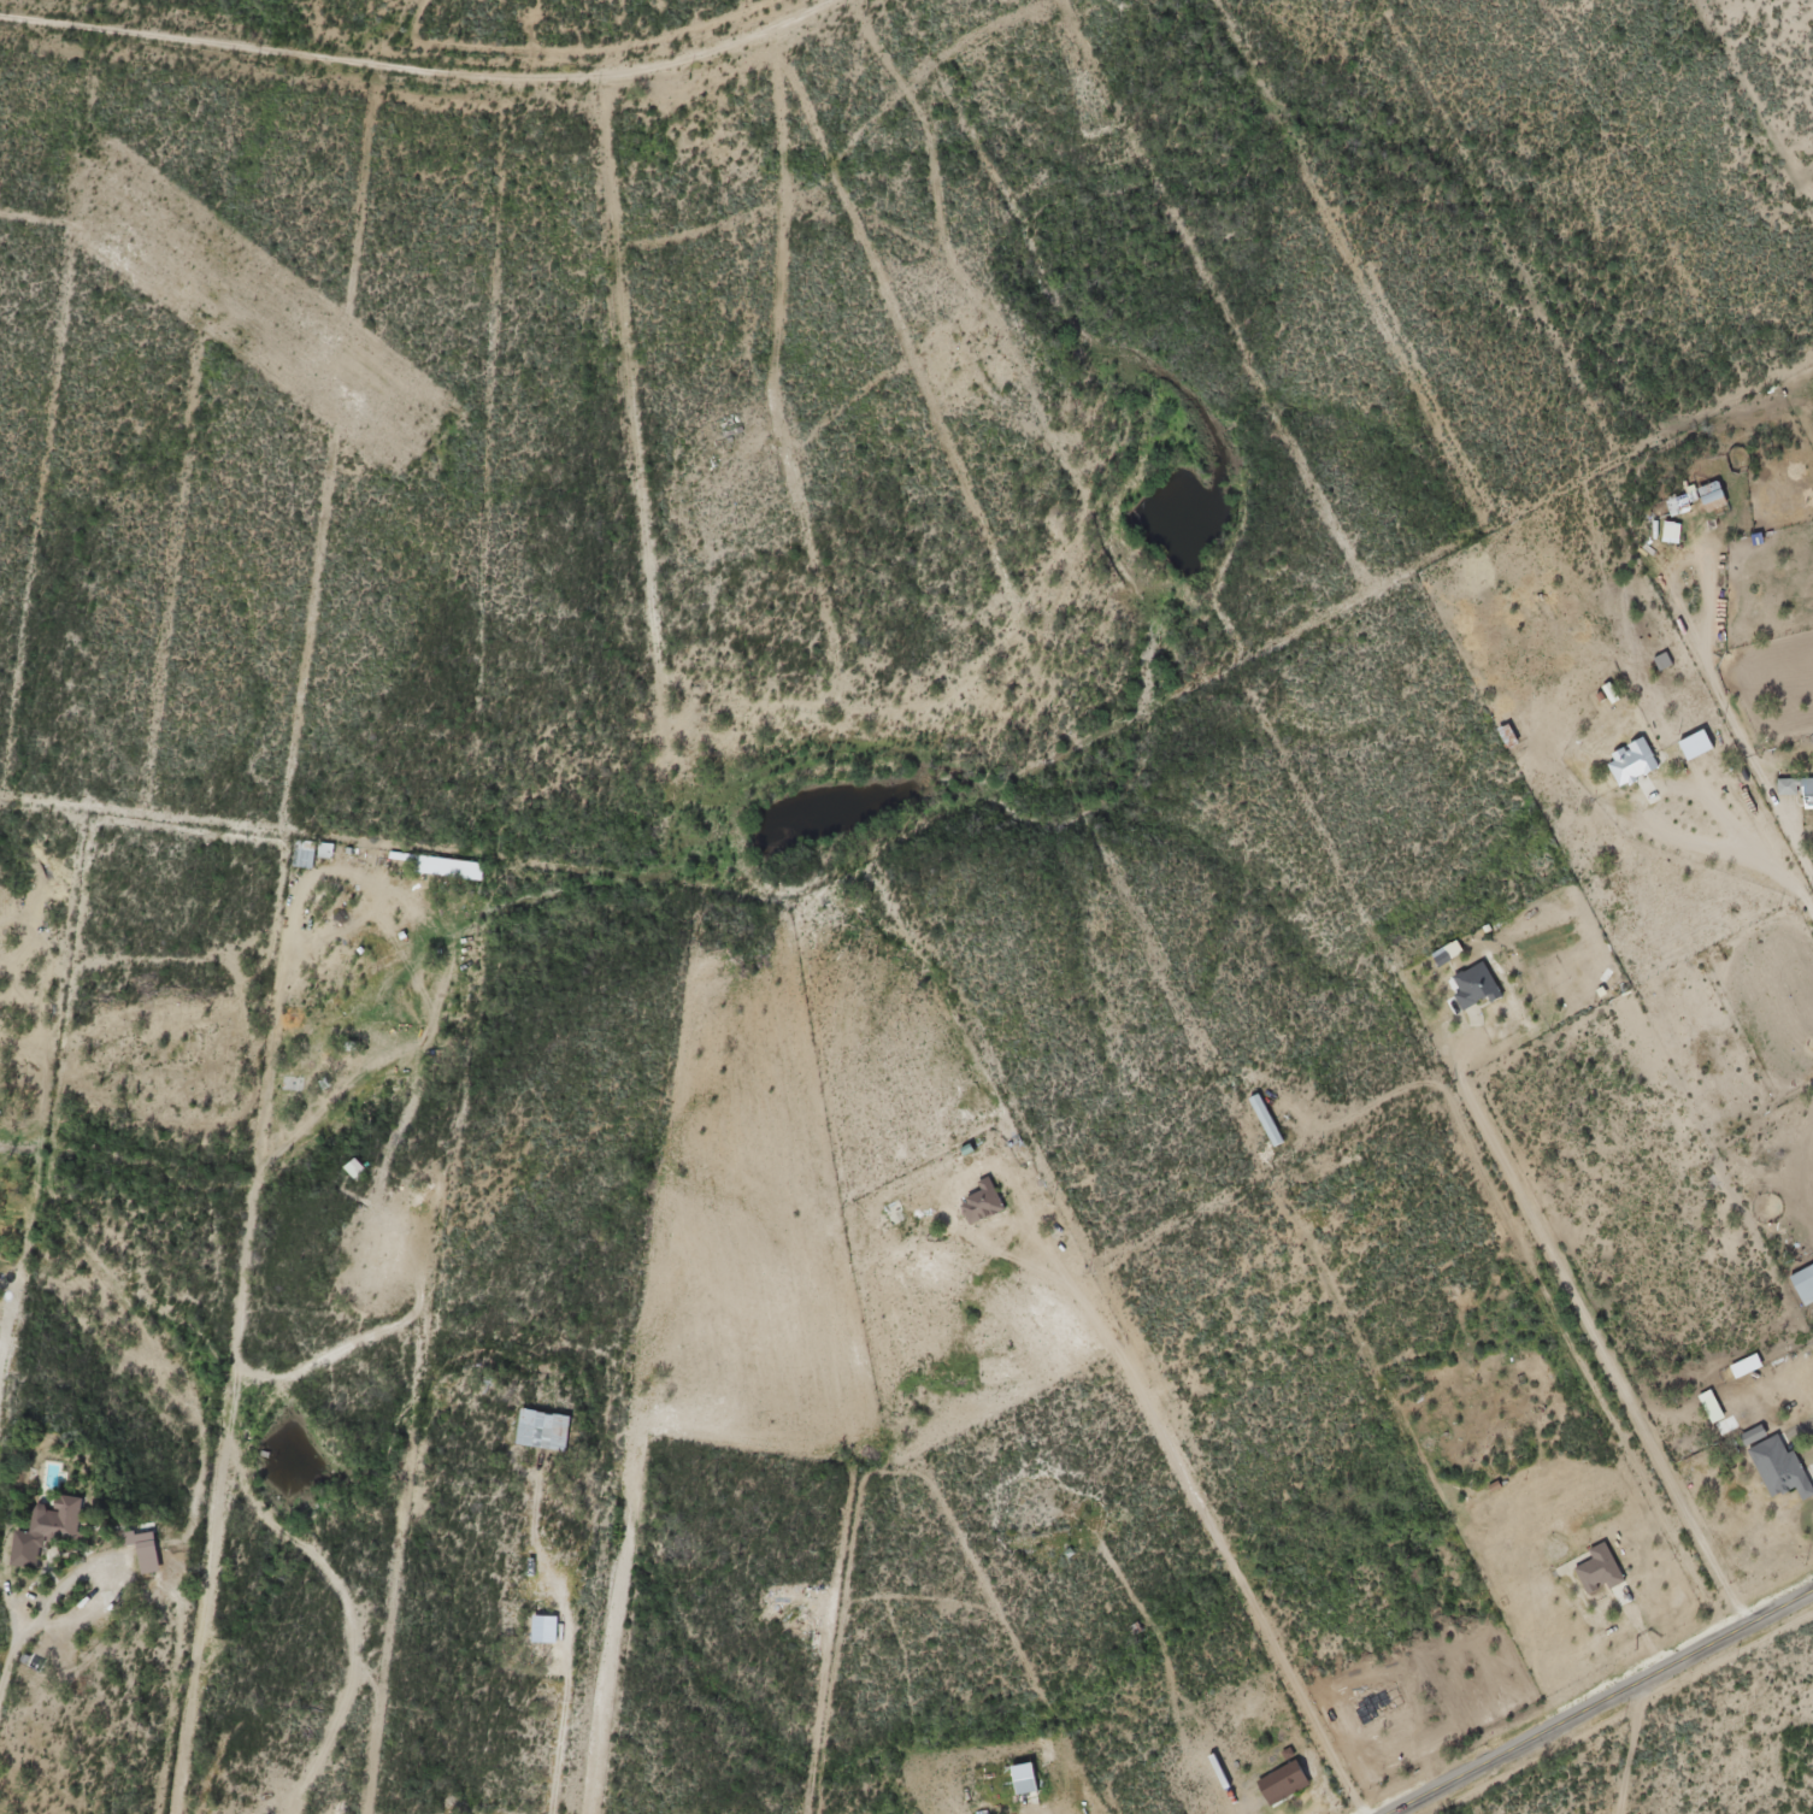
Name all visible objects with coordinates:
road: (1736, 119)
building: (1713, 491)
building: (1656, 522)
building: (1635, 762)
building: (1797, 784)
building: (324, 846)
building: (302, 848)
building: (417, 859)
building: (1476, 980)
building: (1267, 1115)
building: (983, 1198)
building: (1805, 1279)
building: (1746, 1361)
building: (543, 1425)
building: (1773, 1455)
building: (63, 1515)
building: (148, 1547)
building: (1601, 1567)
building: (542, 1630)
road: (16, 1638)
road: (1605, 1703)
building: (1285, 1778)

